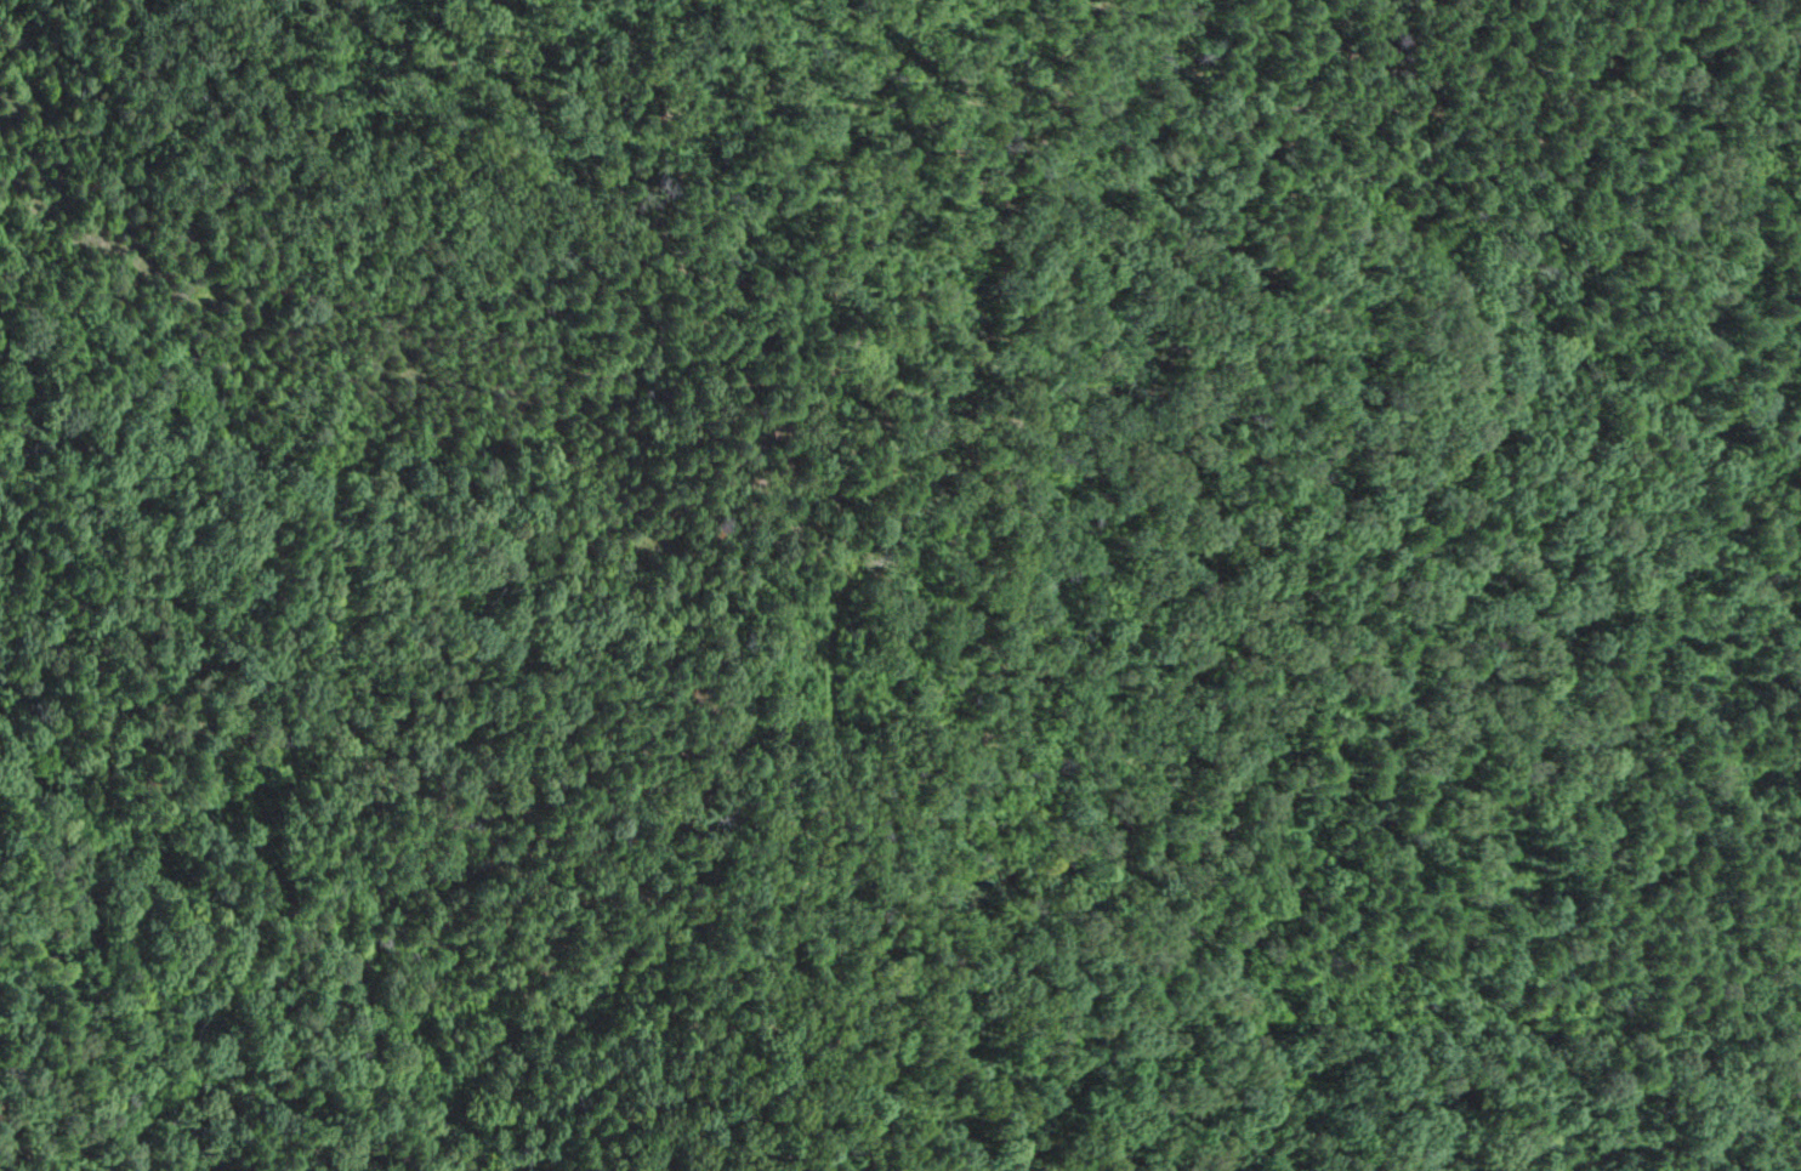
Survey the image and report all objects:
road: (1698, 284)

